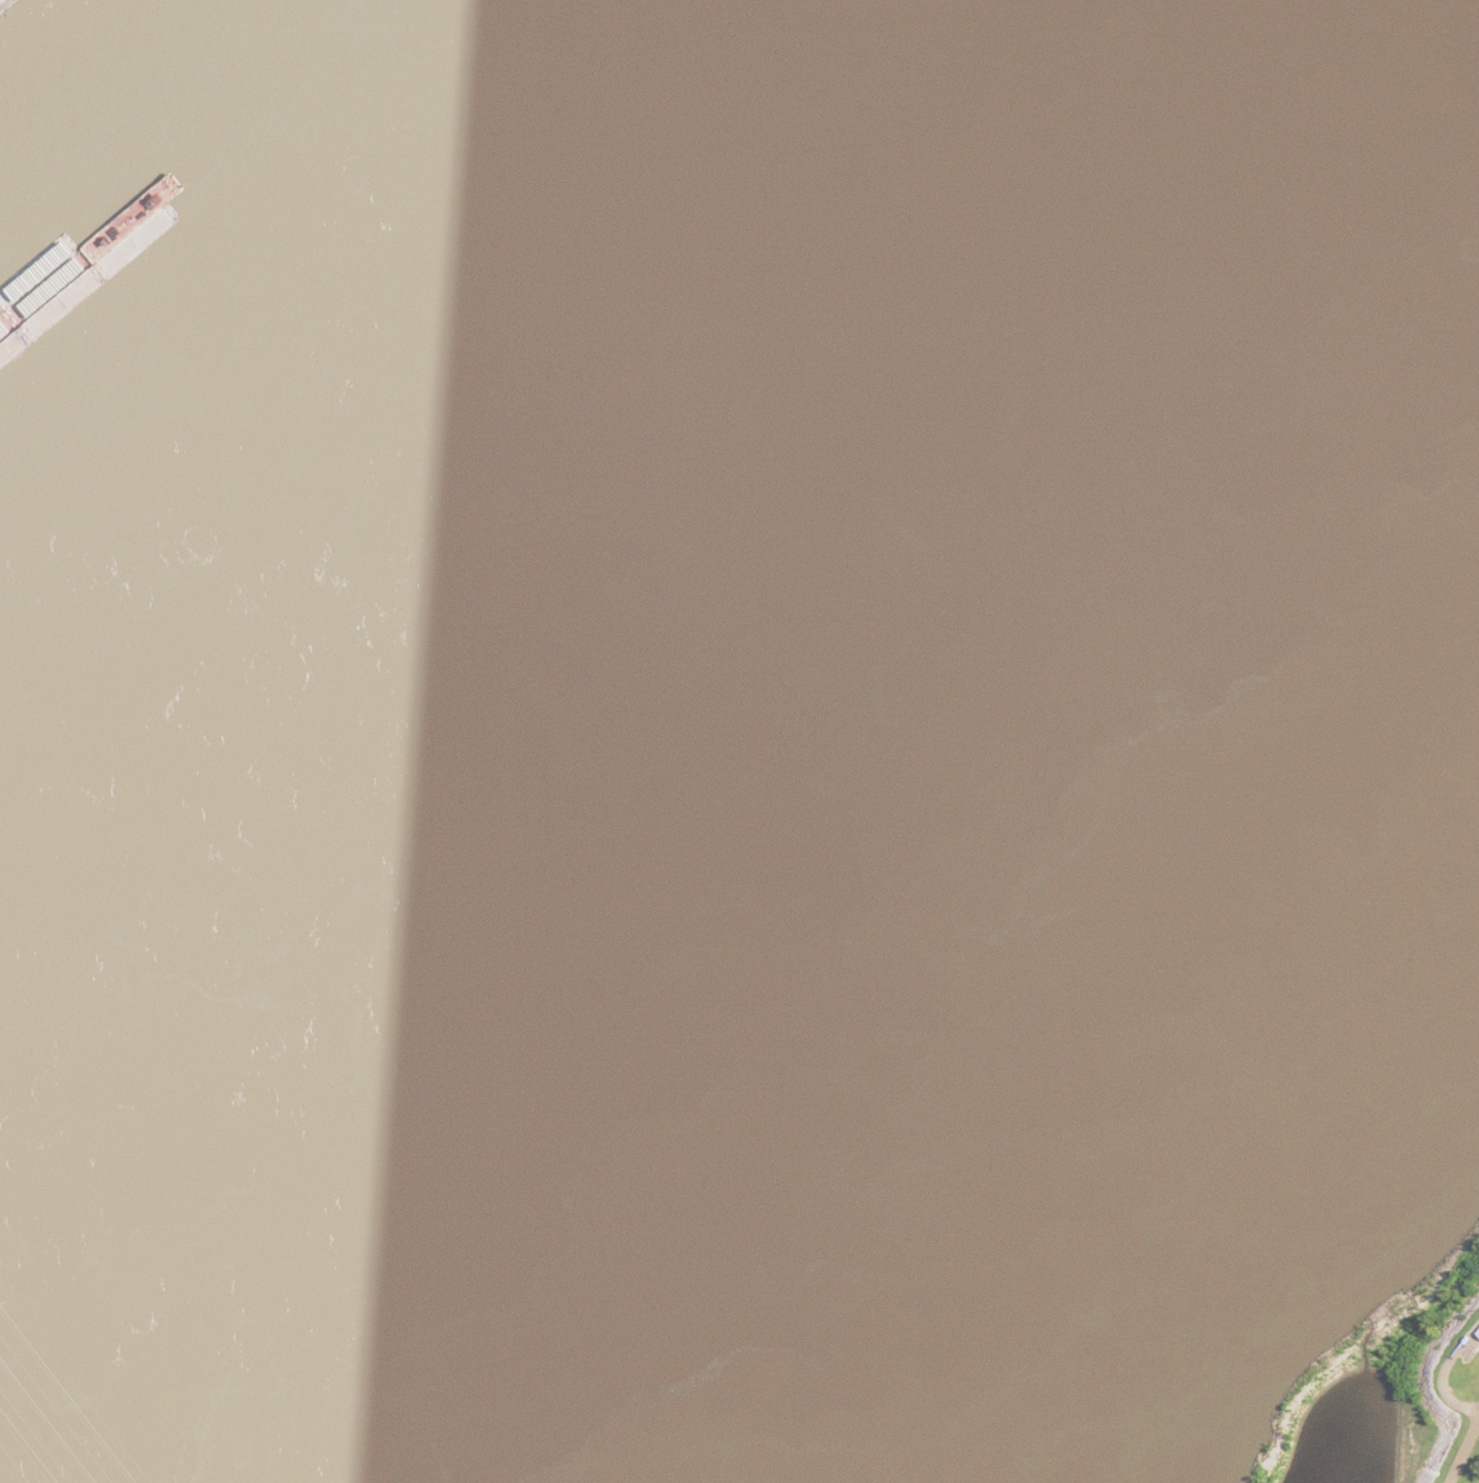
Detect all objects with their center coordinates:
river: (637, 548)

